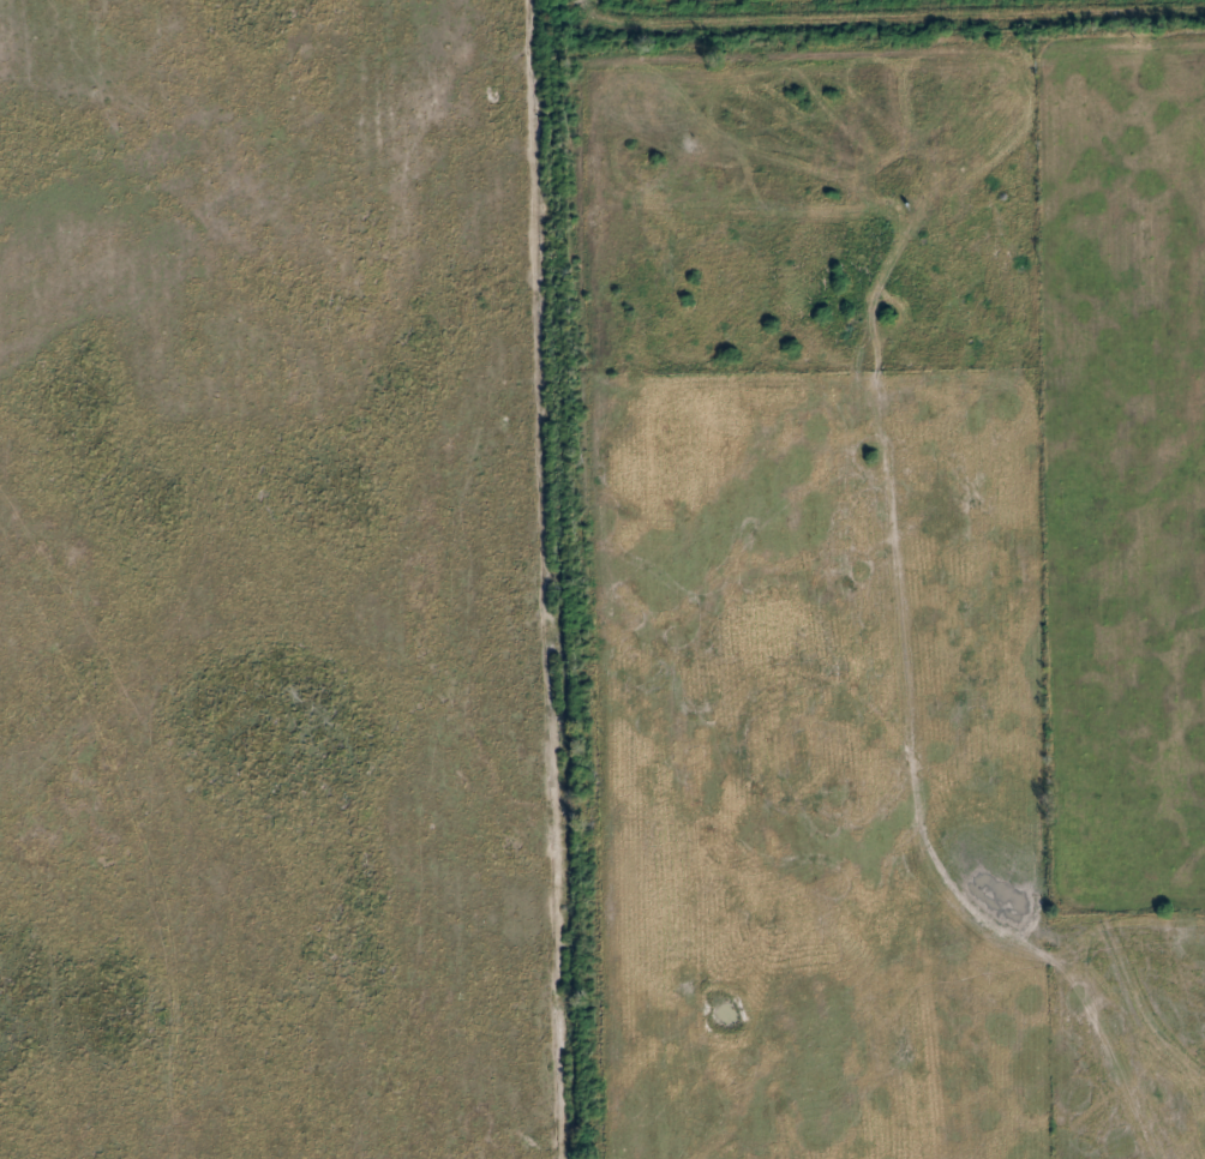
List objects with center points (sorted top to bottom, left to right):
road: (572, 5)
road: (784, 5)

